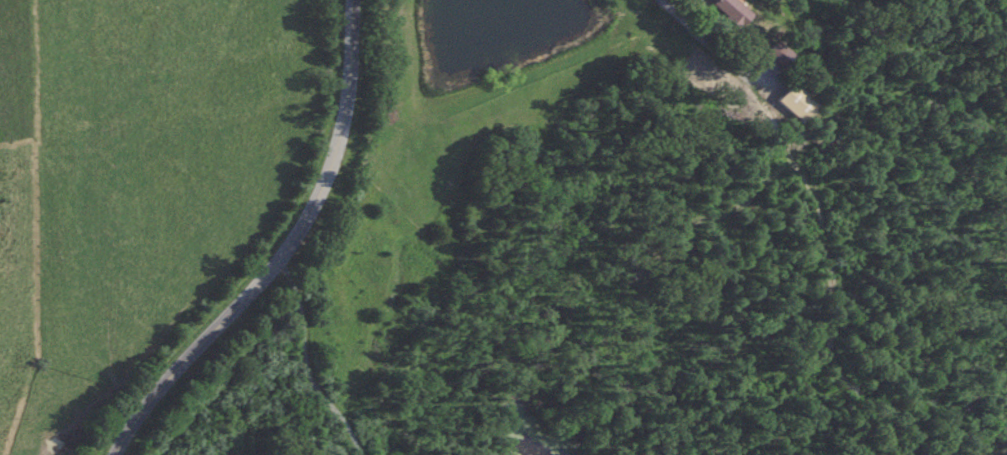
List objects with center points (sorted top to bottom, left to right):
road: (691, 46)
building: (776, 54)
building: (793, 103)
road: (288, 253)

